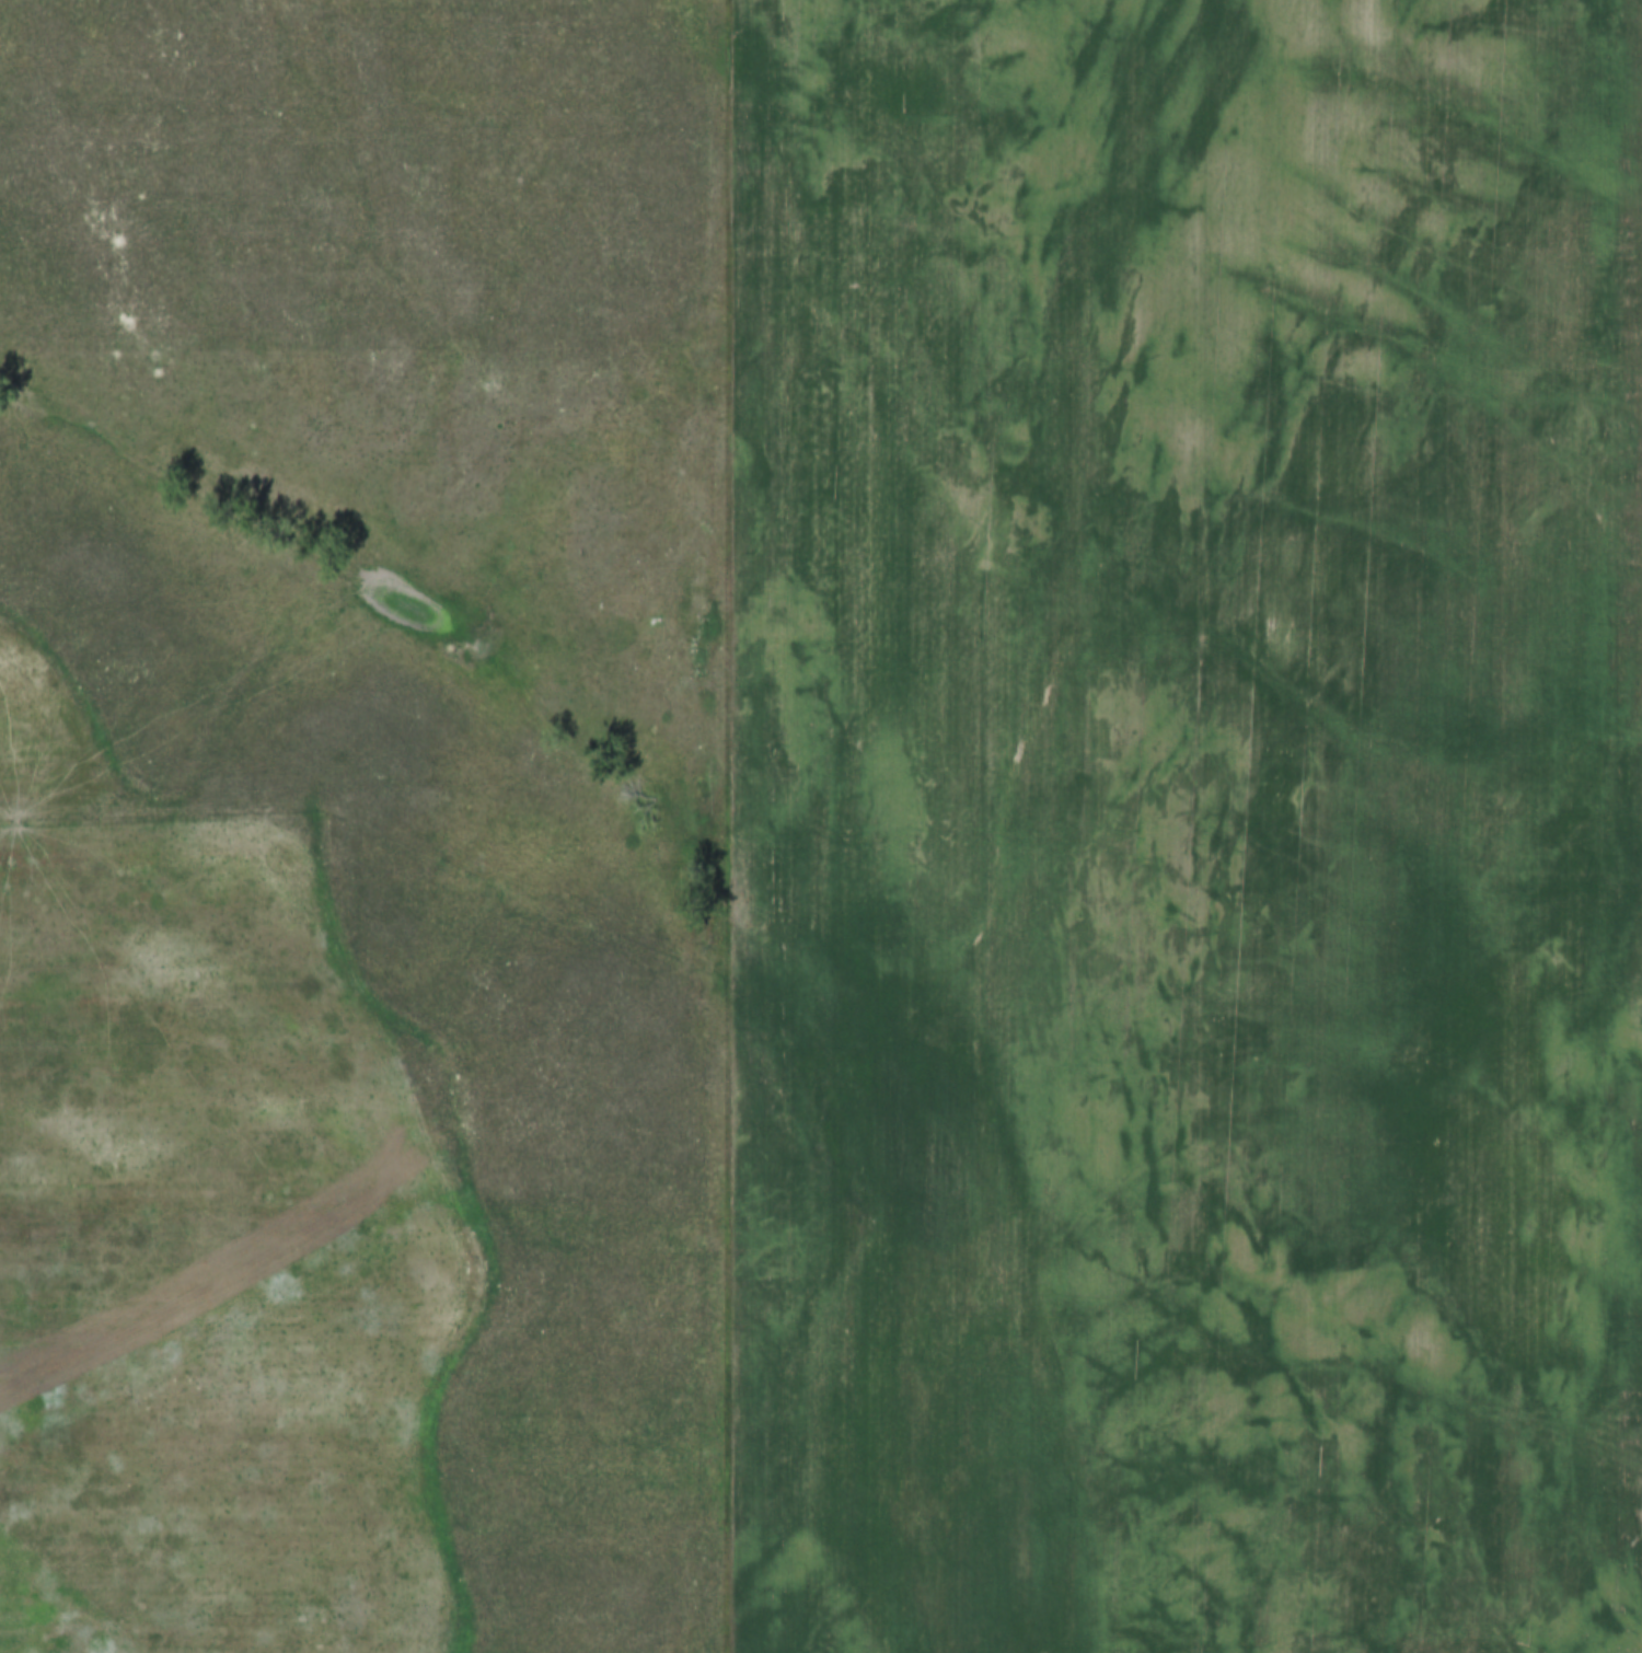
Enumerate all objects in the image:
road: (730, 827)

